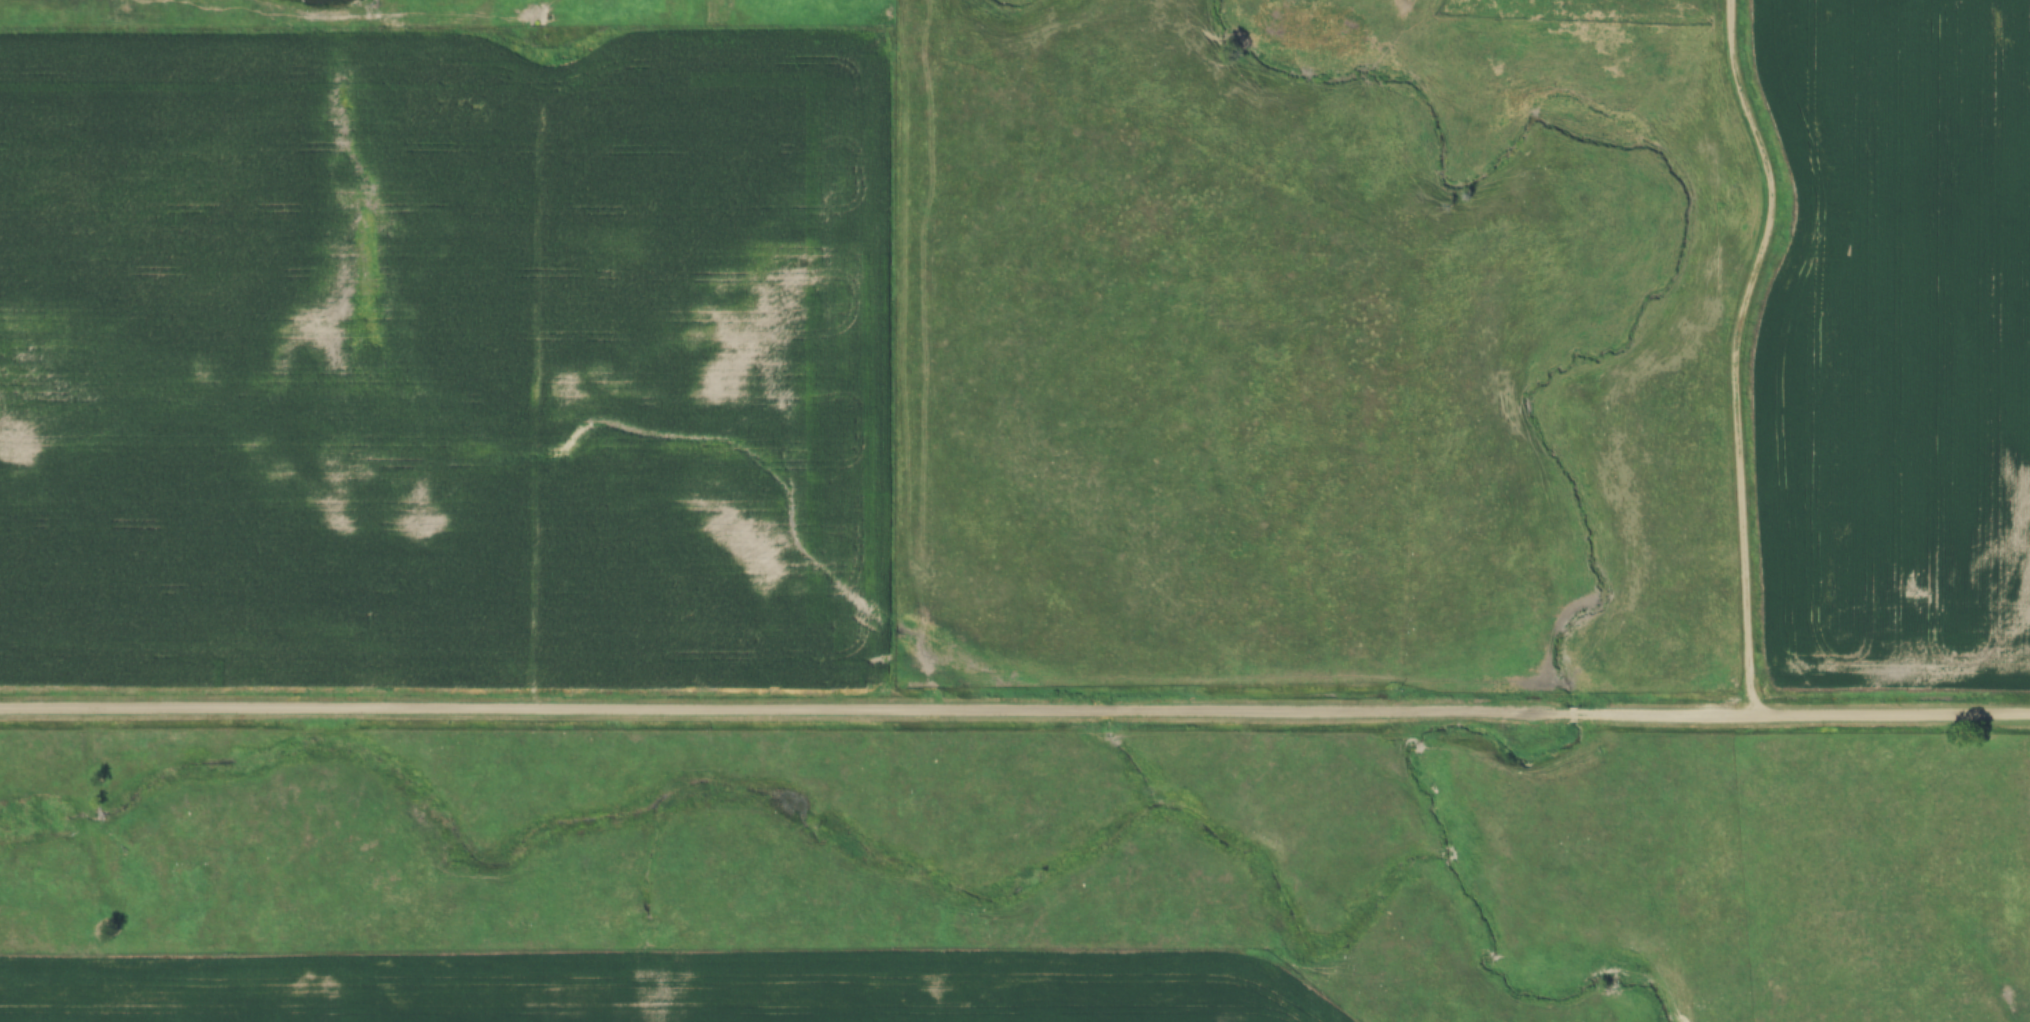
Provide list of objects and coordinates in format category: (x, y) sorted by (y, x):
building: (600, 1)
road: (1727, 347)
road: (1015, 701)

